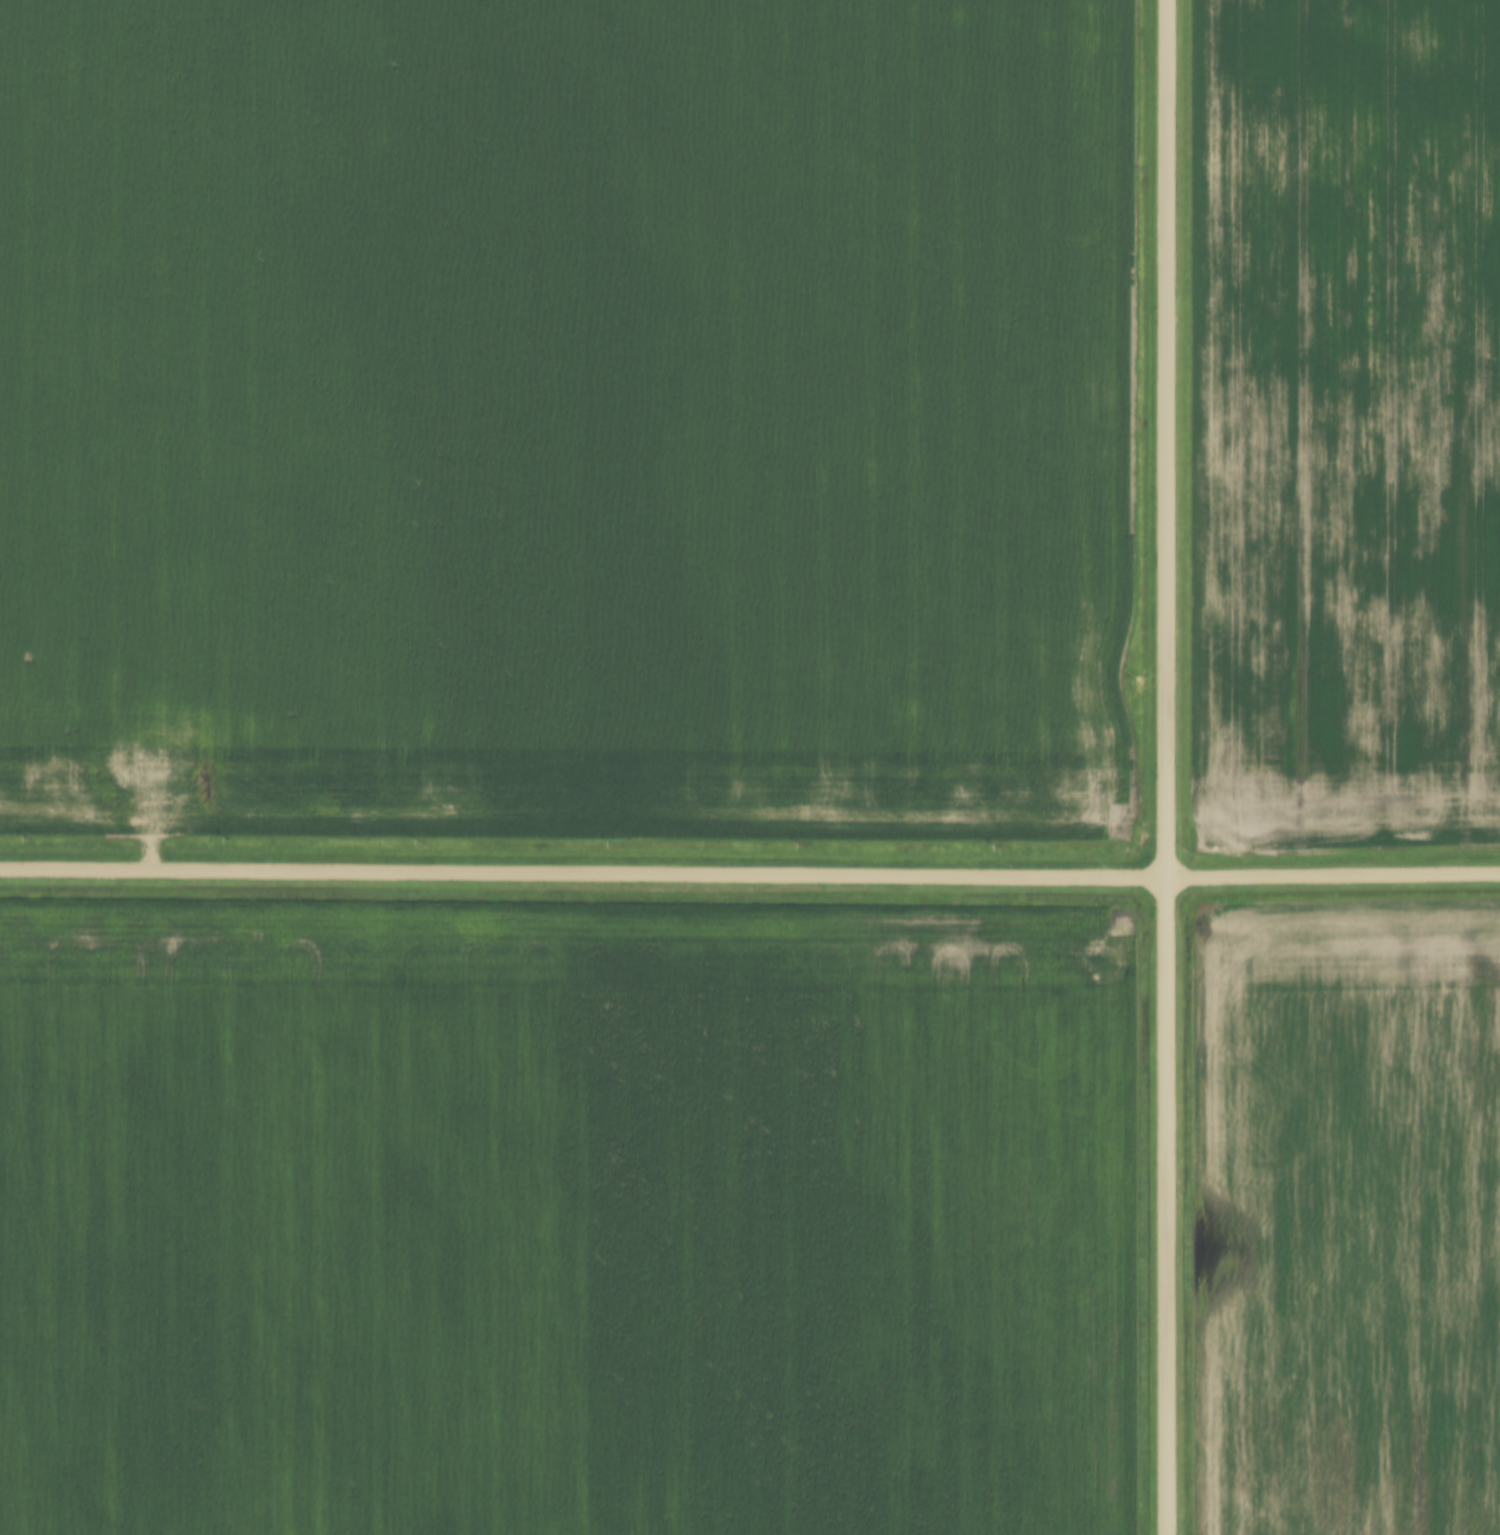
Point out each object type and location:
road: (1170, 767)
road: (749, 878)

